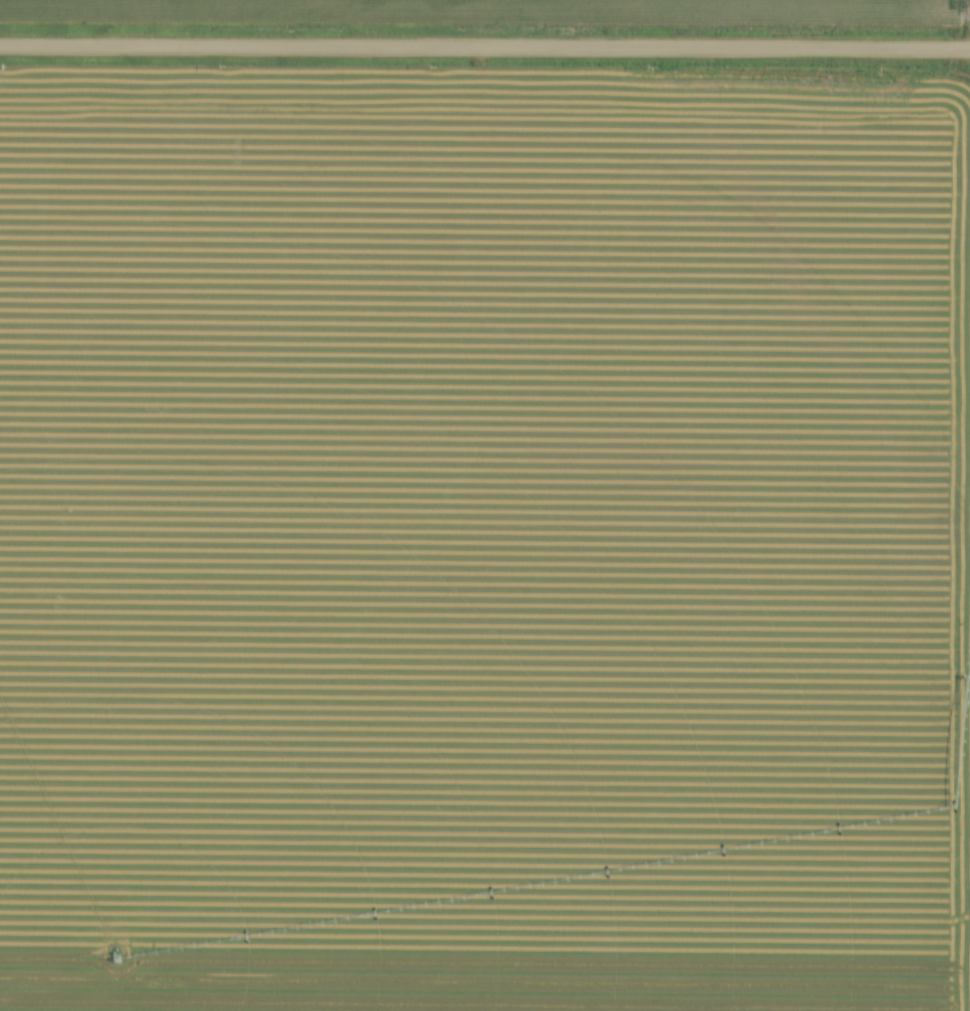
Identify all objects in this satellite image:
crop: (521, 9)
road: (484, 48)
crop: (484, 539)

